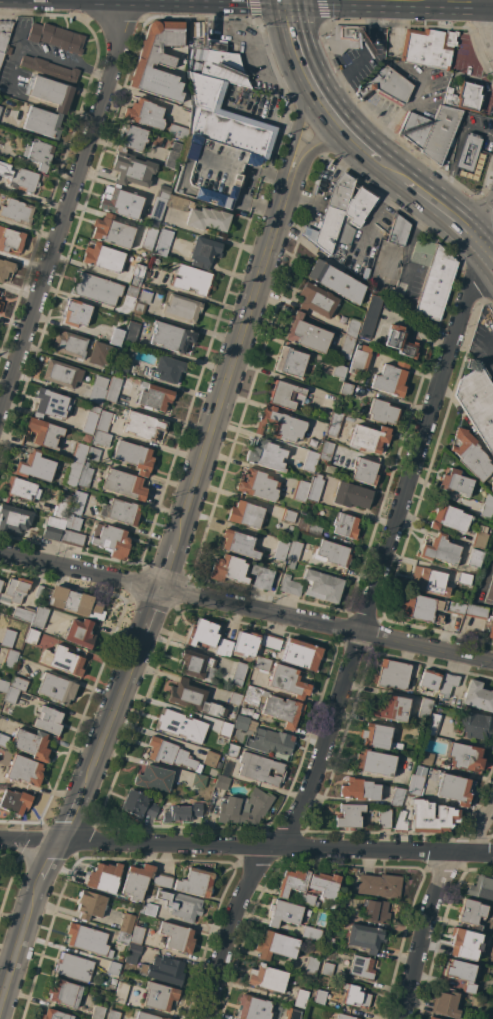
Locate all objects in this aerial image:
road: (488, 0)
road: (486, 20)
building: (4, 35)
building: (56, 37)
building: (345, 37)
building: (203, 38)
building: (428, 47)
building: (11, 50)
building: (158, 61)
building: (49, 68)
building: (387, 84)
building: (50, 92)
building: (464, 96)
road: (327, 101)
road: (300, 104)
building: (0, 108)
building: (144, 113)
building: (42, 122)
building: (414, 128)
building: (177, 131)
building: (440, 133)
building: (220, 136)
building: (131, 138)
road: (339, 148)
building: (468, 152)
building: (39, 153)
building: (173, 156)
building: (132, 169)
building: (19, 177)
building: (163, 191)
building: (120, 202)
building: (176, 203)
road: (65, 205)
road: (445, 209)
building: (16, 211)
building: (333, 212)
building: (207, 218)
road: (374, 219)
building: (153, 223)
building: (112, 231)
building: (399, 231)
building: (10, 239)
building: (162, 241)
road: (405, 245)
road: (489, 250)
building: (204, 252)
building: (423, 252)
building: (103, 257)
road: (387, 264)
building: (5, 269)
building: (145, 273)
building: (136, 275)
building: (191, 279)
building: (335, 281)
building: (435, 286)
building: (96, 288)
building: (132, 291)
building: (0, 292)
building: (316, 300)
building: (142, 301)
building: (1, 305)
building: (181, 308)
building: (76, 313)
building: (370, 316)
building: (352, 328)
building: (132, 332)
building: (307, 334)
building: (116, 337)
building: (171, 337)
building: (399, 341)
building: (69, 344)
building: (346, 347)
building: (99, 354)
building: (359, 360)
building: (125, 362)
building: (291, 362)
road: (232, 365)
building: (167, 369)
building: (338, 371)
building: (61, 373)
building: (391, 379)
building: (112, 389)
building: (346, 389)
building: (97, 390)
building: (286, 395)
building: (154, 397)
building: (52, 403)
building: (478, 403)
building: (382, 411)
building: (90, 418)
building: (103, 421)
building: (279, 424)
building: (334, 424)
building: (143, 425)
building: (44, 432)
building: (100, 438)
building: (369, 438)
building: (326, 450)
building: (79, 453)
building: (94, 454)
building: (470, 454)
building: (266, 455)
building: (134, 456)
building: (310, 461)
building: (35, 466)
building: (364, 471)
building: (73, 474)
building: (85, 475)
building: (454, 482)
building: (124, 484)
building: (258, 485)
building: (491, 487)
building: (22, 488)
building: (315, 488)
building: (300, 490)
building: (351, 495)
building: (78, 502)
building: (63, 505)
building: (487, 507)
building: (123, 511)
building: (246, 514)
building: (289, 515)
building: (448, 517)
building: (14, 518)
building: (71, 522)
building: (345, 525)
building: (312, 527)
building: (53, 528)
building: (479, 537)
building: (72, 538)
building: (111, 540)
building: (239, 543)
building: (280, 550)
building: (295, 550)
building: (439, 550)
building: (334, 553)
building: (474, 558)
building: (292, 564)
road: (168, 566)
building: (228, 569)
building: (261, 577)
building: (0, 579)
building: (463, 579)
building: (428, 581)
building: (1, 583)
building: (322, 585)
building: (290, 586)
building: (14, 590)
building: (39, 590)
building: (489, 590)
building: (77, 603)
road: (246, 608)
building: (427, 608)
building: (476, 611)
building: (23, 613)
road: (150, 613)
building: (40, 616)
road: (363, 624)
building: (490, 629)
building: (80, 633)
building: (203, 633)
building: (32, 636)
building: (8, 638)
building: (271, 641)
building: (246, 643)
building: (223, 648)
building: (301, 654)
building: (9, 659)
building: (62, 660)
building: (194, 663)
building: (262, 664)
building: (238, 673)
building: (392, 674)
building: (428, 680)
building: (288, 681)
building: (18, 683)
building: (447, 684)
building: (3, 686)
building: (56, 688)
building: (11, 694)
building: (478, 696)
building: (192, 698)
building: (235, 699)
building: (274, 706)
building: (424, 707)
building: (389, 708)
road: (109, 716)
building: (47, 720)
building: (240, 722)
building: (433, 724)
building: (180, 725)
building: (476, 725)
building: (224, 729)
building: (375, 736)
building: (3, 740)
building: (274, 740)
building: (32, 744)
building: (396, 746)
building: (231, 750)
building: (169, 753)
building: (465, 756)
building: (210, 758)
building: (425, 758)
building: (375, 763)
building: (260, 769)
building: (24, 770)
building: (154, 778)
building: (199, 780)
building: (221, 782)
building: (415, 785)
building: (454, 788)
building: (359, 789)
building: (397, 797)
building: (15, 801)
building: (138, 805)
building: (244, 807)
building: (182, 813)
building: (349, 816)
building: (431, 817)
road: (69, 818)
building: (384, 819)
building: (401, 822)
road: (246, 847)
road: (49, 865)
building: (104, 877)
building: (162, 879)
building: (137, 881)
building: (196, 882)
building: (292, 882)
building: (324, 885)
building: (379, 885)
building: (482, 886)
building: (305, 898)
building: (90, 905)
building: (184, 906)
road: (432, 908)
building: (148, 909)
building: (375, 911)
building: (284, 913)
building: (341, 913)
building: (471, 913)
building: (127, 923)
building: (311, 933)
building: (137, 935)
building: (177, 937)
building: (365, 937)
building: (123, 938)
building: (88, 939)
building: (465, 943)
building: (276, 945)
road: (19, 952)
building: (132, 953)
building: (120, 958)
building: (311, 966)
building: (361, 966)
building: (73, 967)
building: (113, 968)
building: (327, 968)
building: (164, 970)
building: (461, 974)
building: (267, 978)
building: (136, 983)
building: (121, 992)
building: (64, 993)
building: (356, 995)
building: (159, 996)
building: (301, 997)
building: (319, 997)
building: (445, 1004)
building: (253, 1008)
building: (98, 1012)
building: (292, 1013)
building: (114, 1014)
building: (54, 1015)
building: (148, 1016)
building: (345, 1016)
building: (431, 1018)

